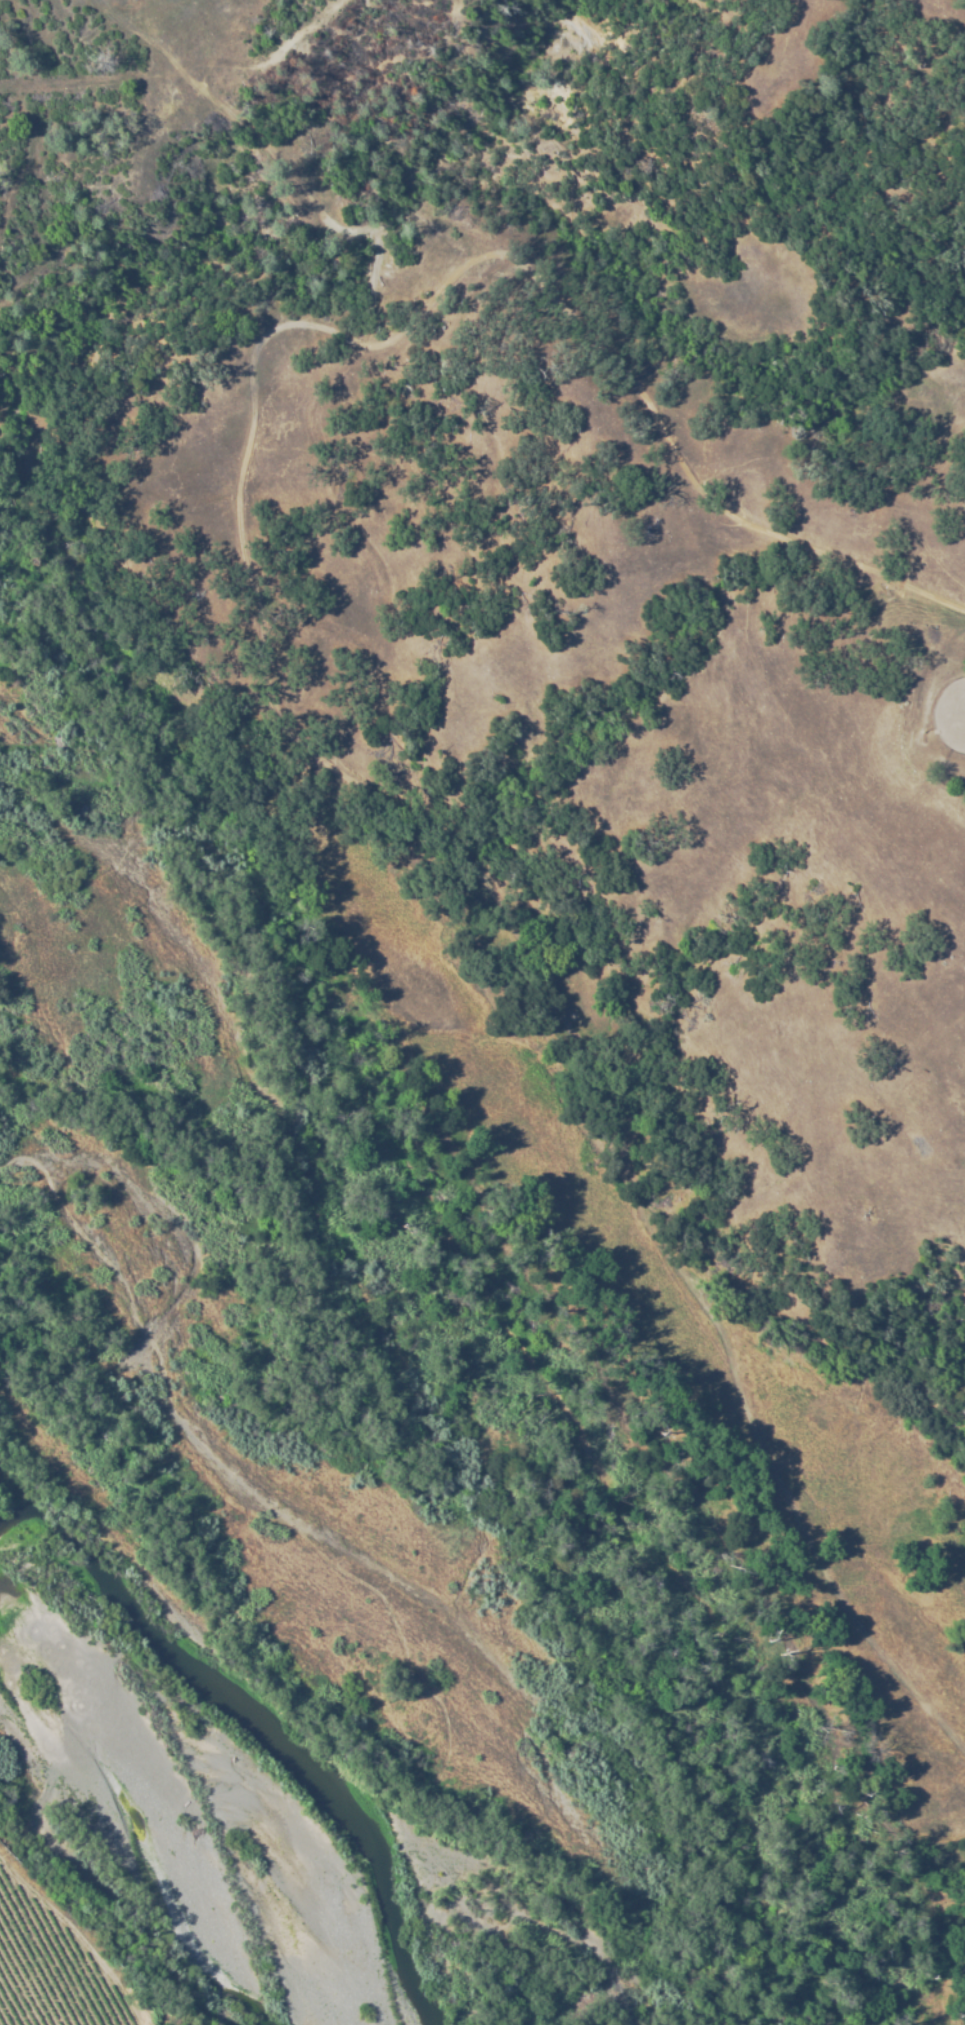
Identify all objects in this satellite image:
river: (101, 1829)

